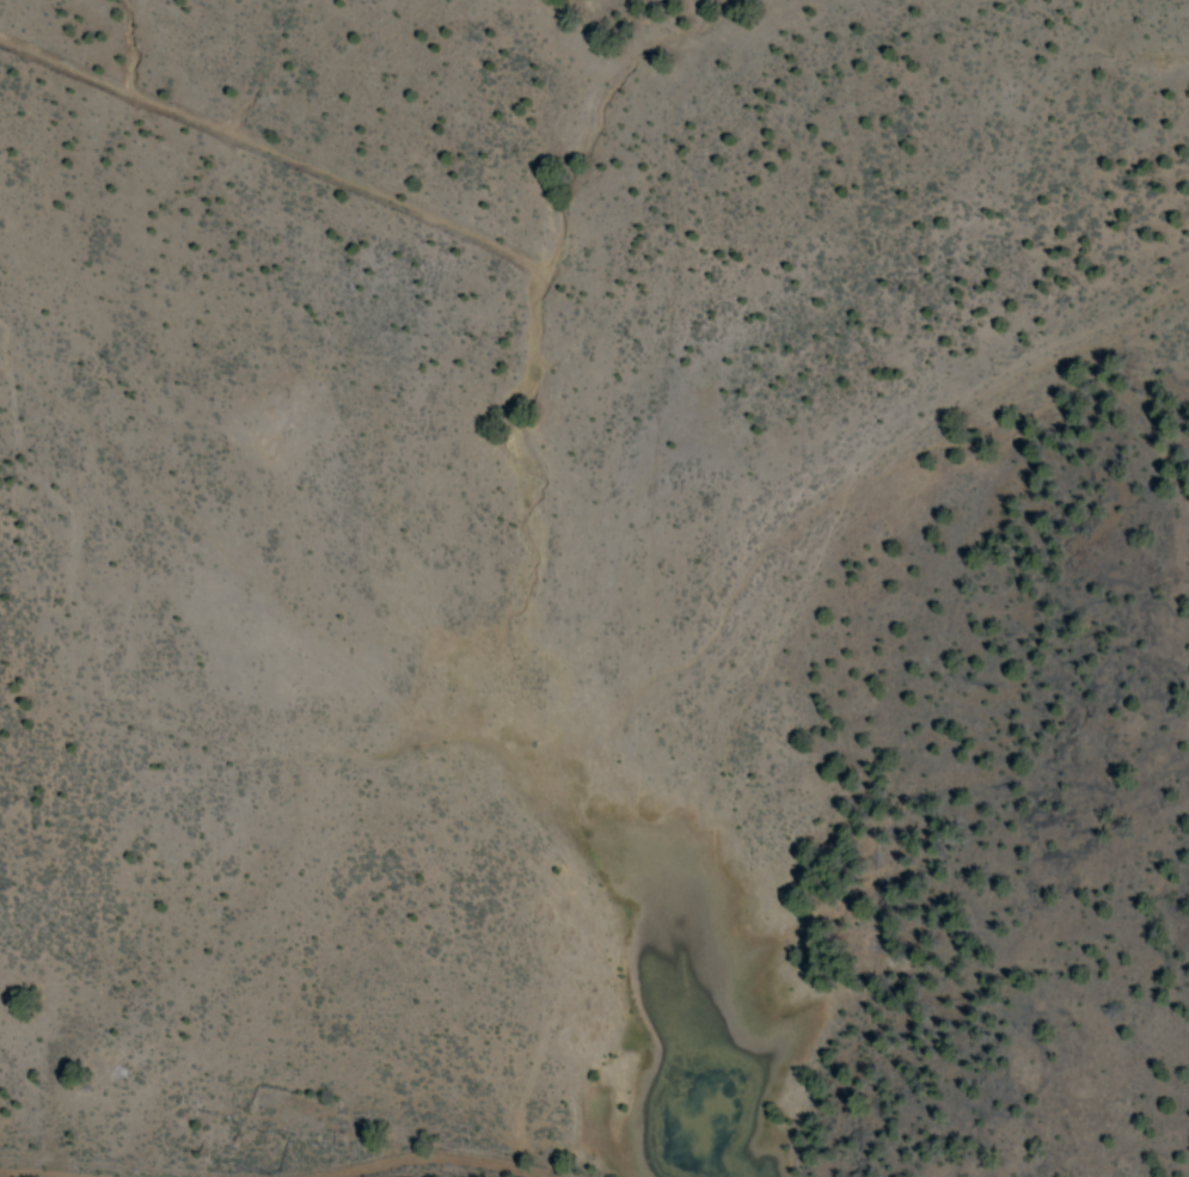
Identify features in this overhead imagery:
road: (427, 1161)
road: (23, 1175)

